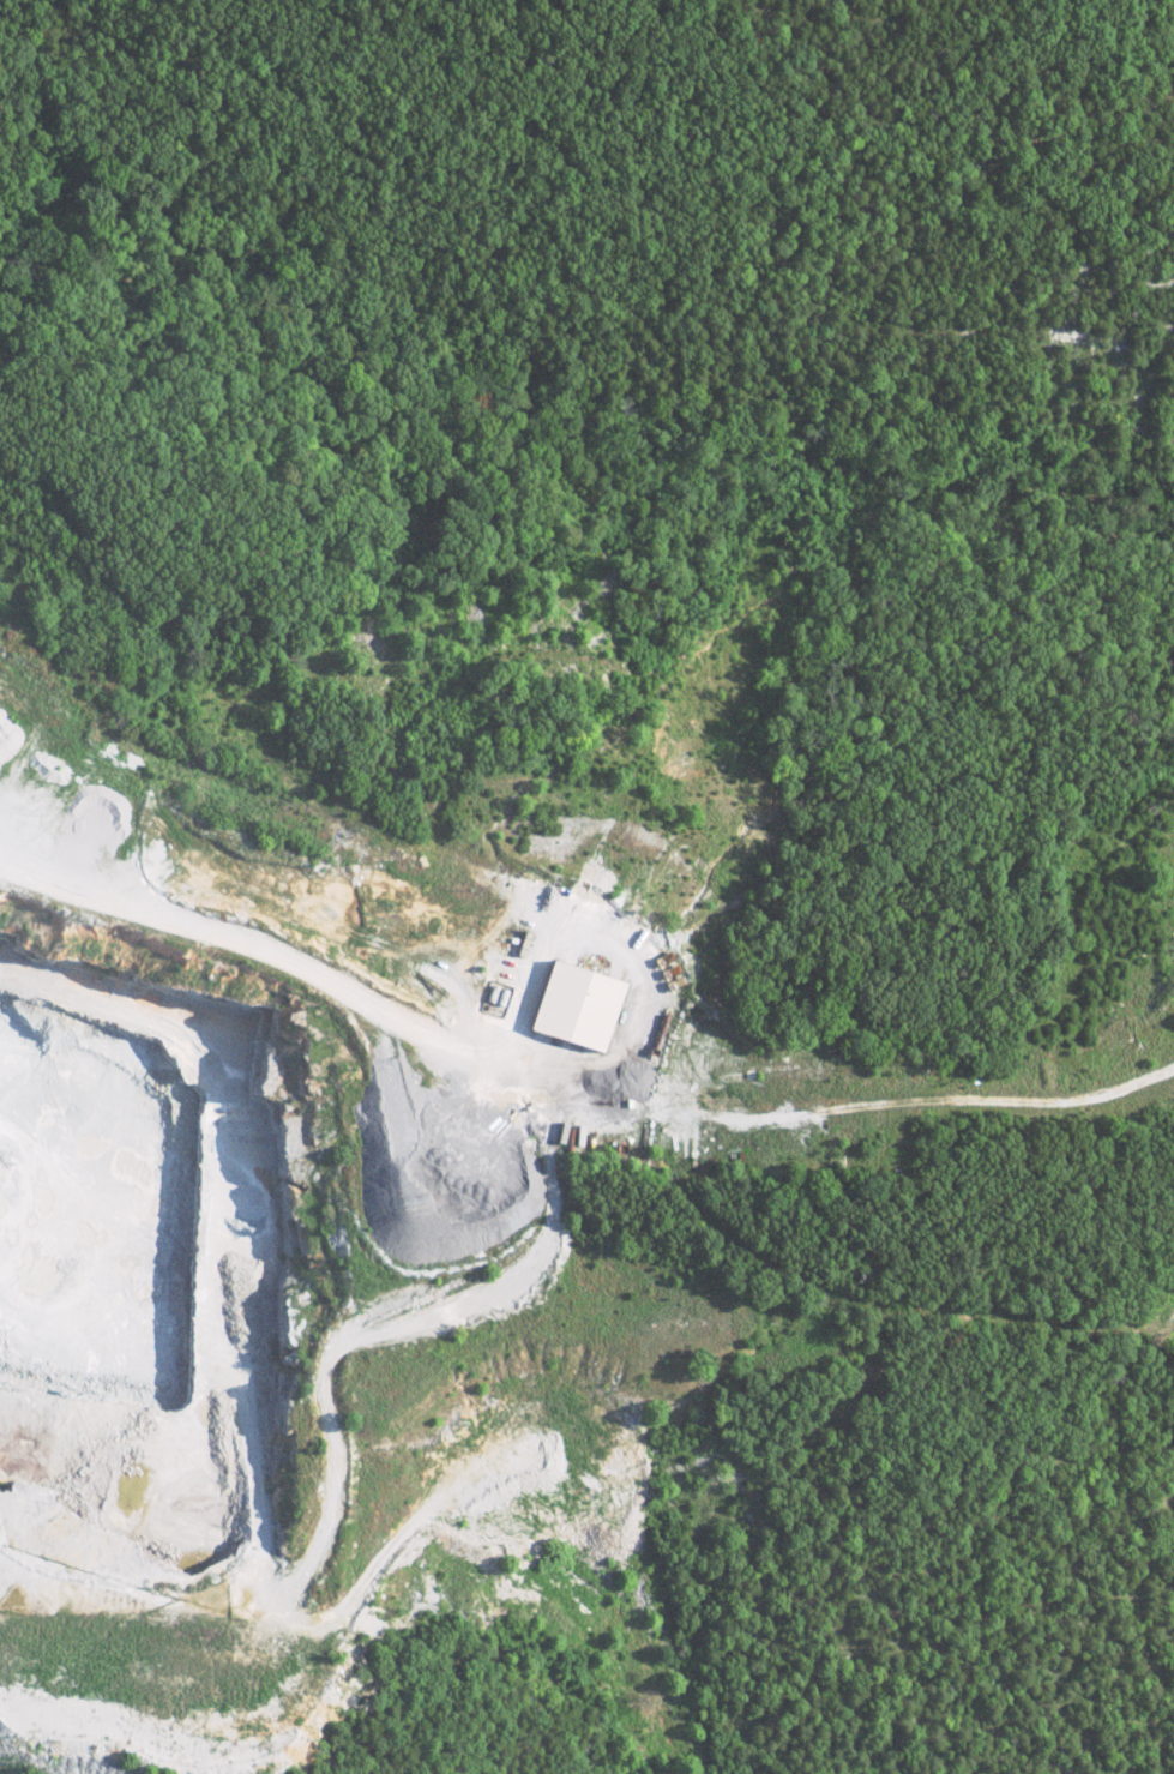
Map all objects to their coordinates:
road: (133, 7)

